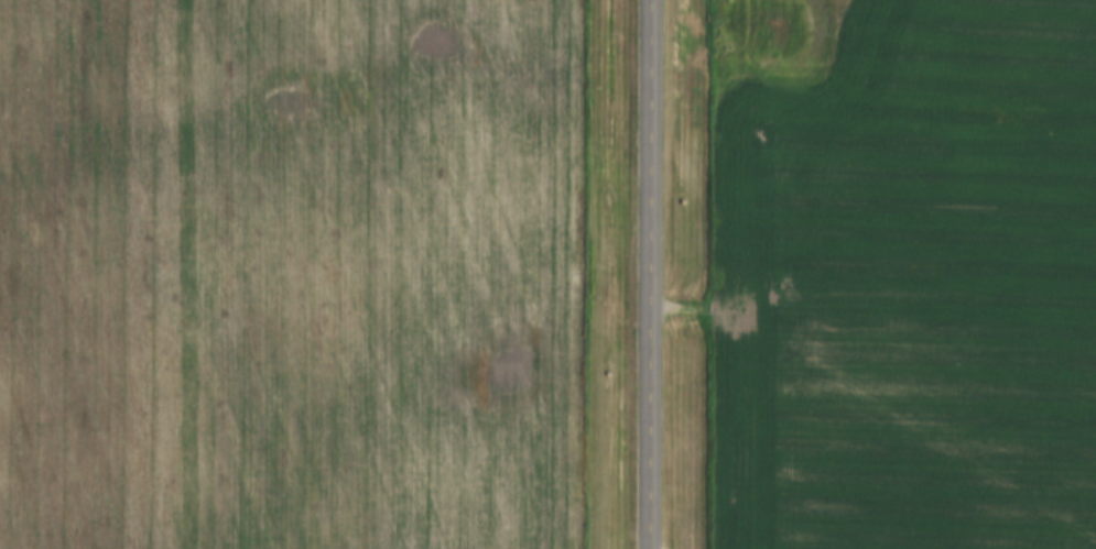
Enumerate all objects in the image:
road: (649, 274)

